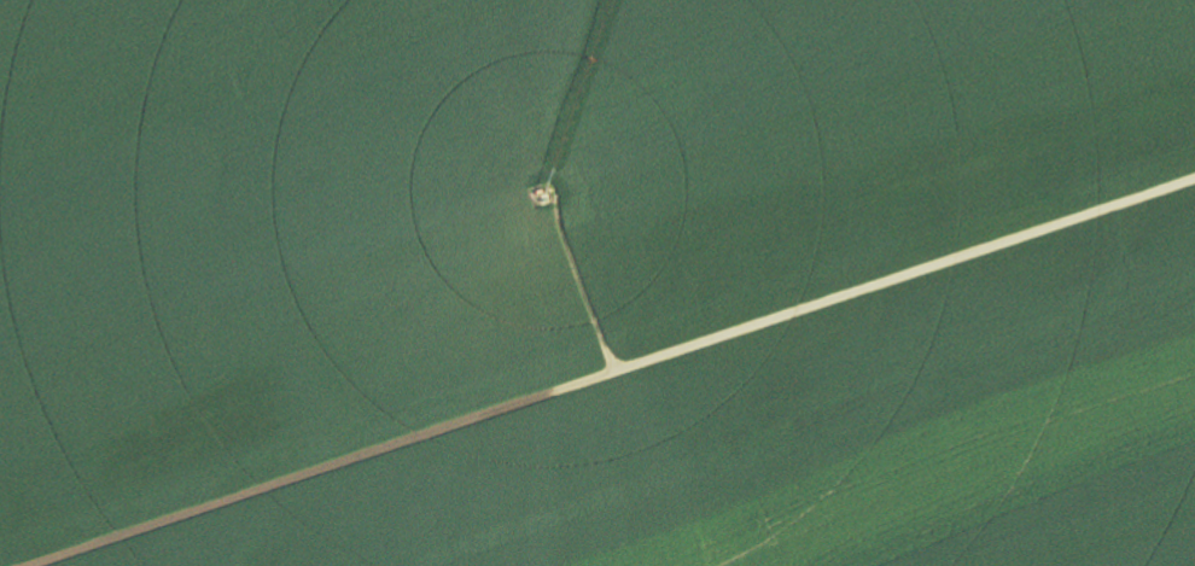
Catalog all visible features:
road: (595, 355)

